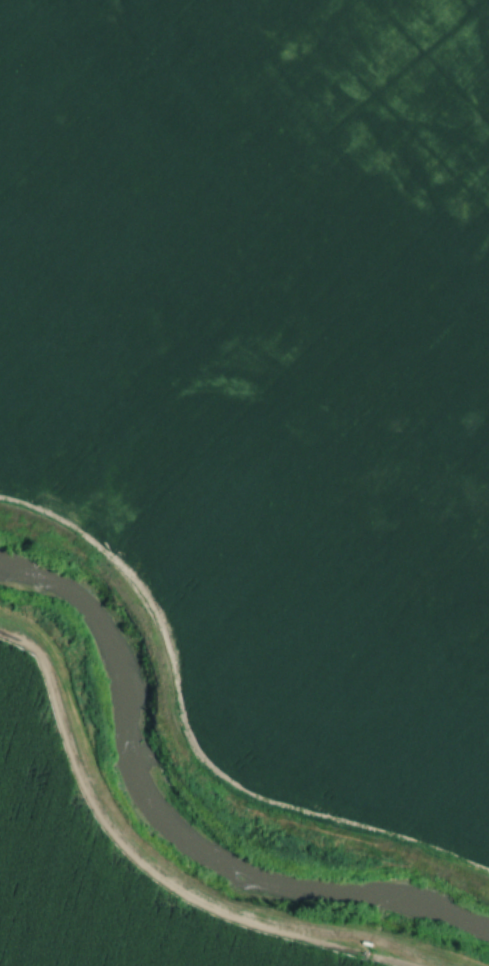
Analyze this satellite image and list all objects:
river: (176, 817)

